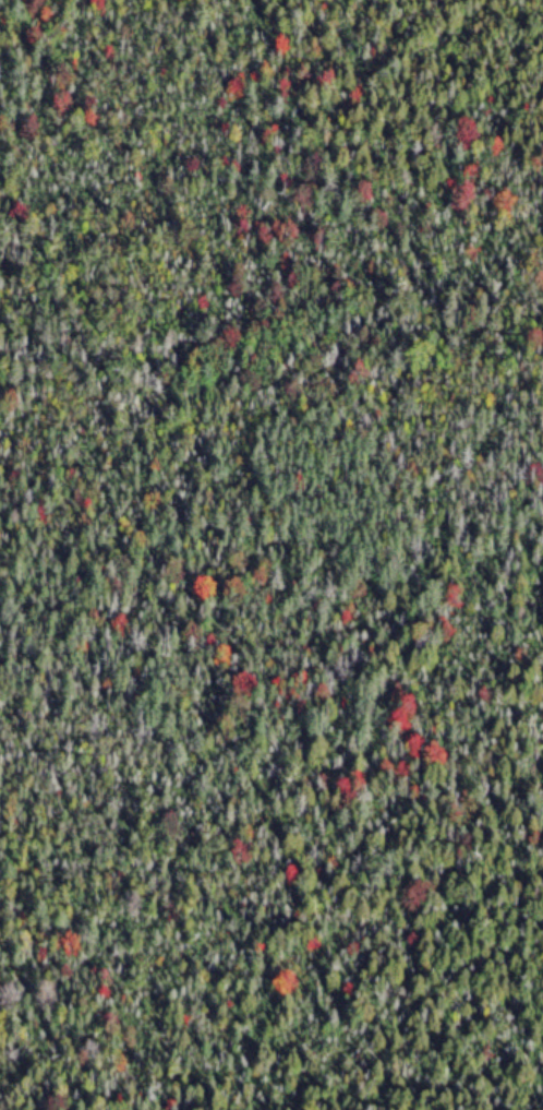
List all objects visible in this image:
road: (36, 942)

